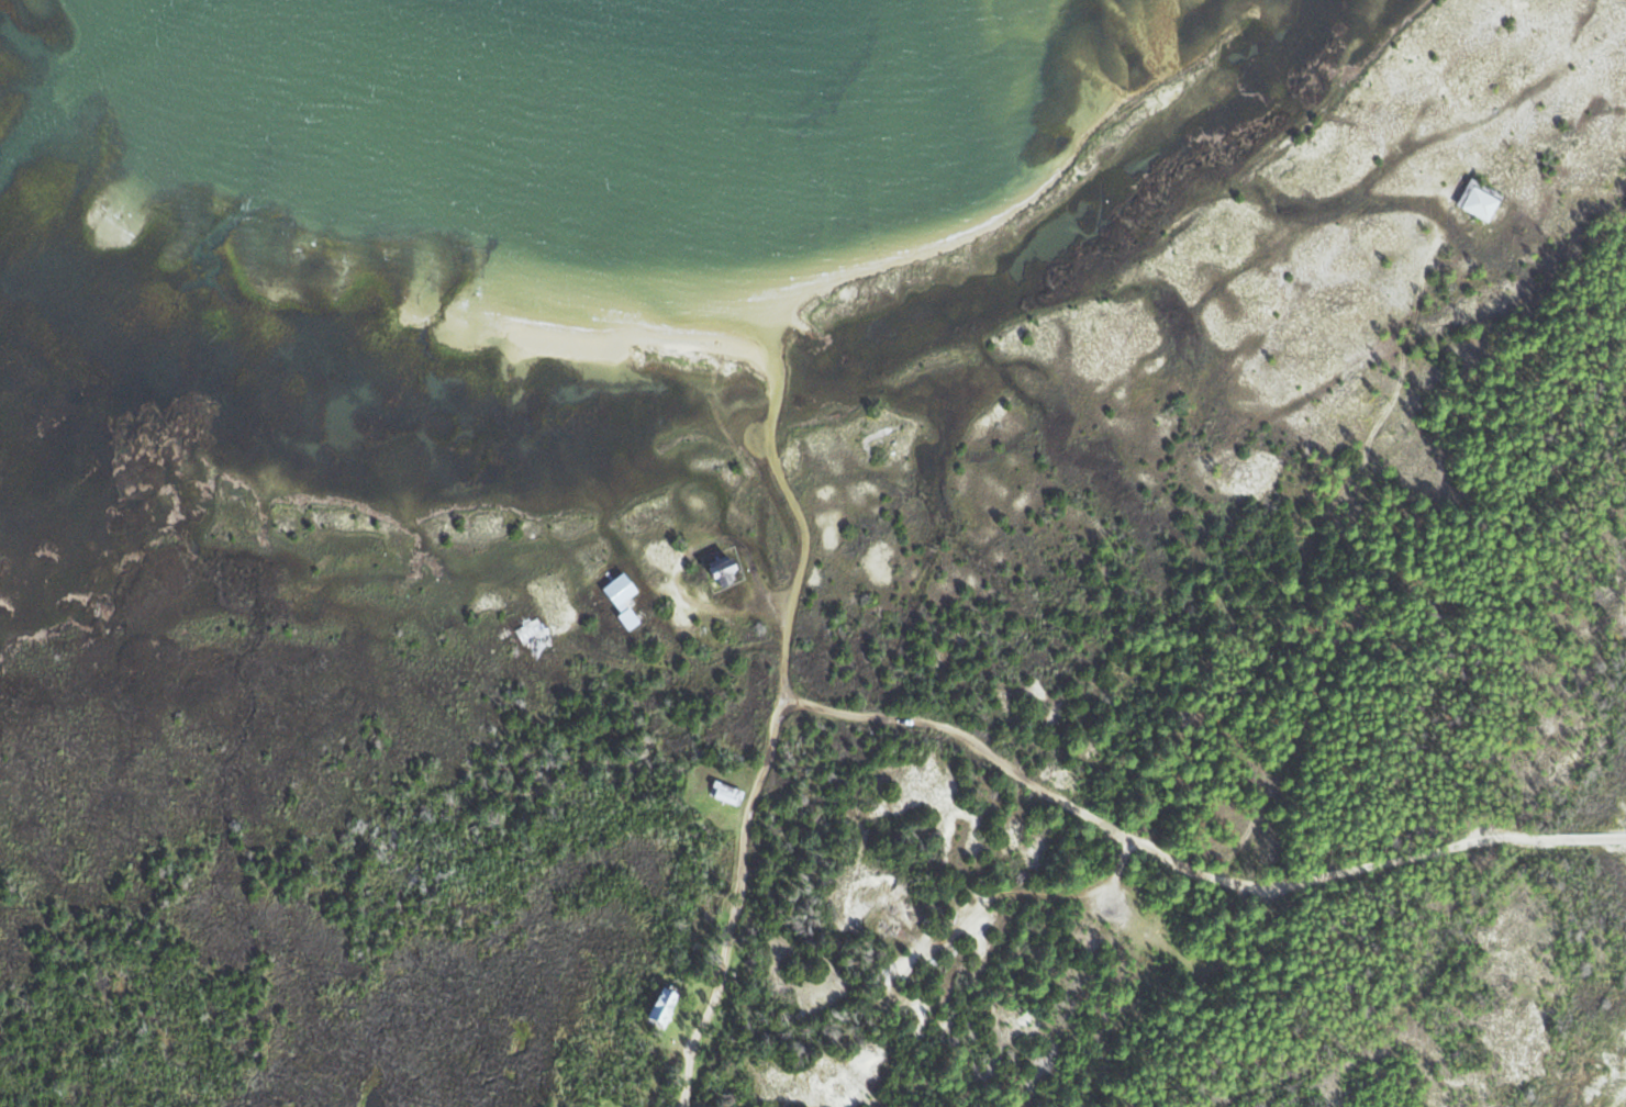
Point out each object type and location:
building: (1478, 199)
road: (776, 466)
road: (1300, 551)
building: (721, 570)
road: (673, 573)
building: (619, 590)
building: (627, 617)
building: (530, 629)
road: (676, 630)
road: (683, 660)
building: (726, 791)
road: (1590, 838)
road: (1154, 849)
road: (742, 859)
road: (1012, 892)
building: (661, 1005)
road: (1404, 1006)

